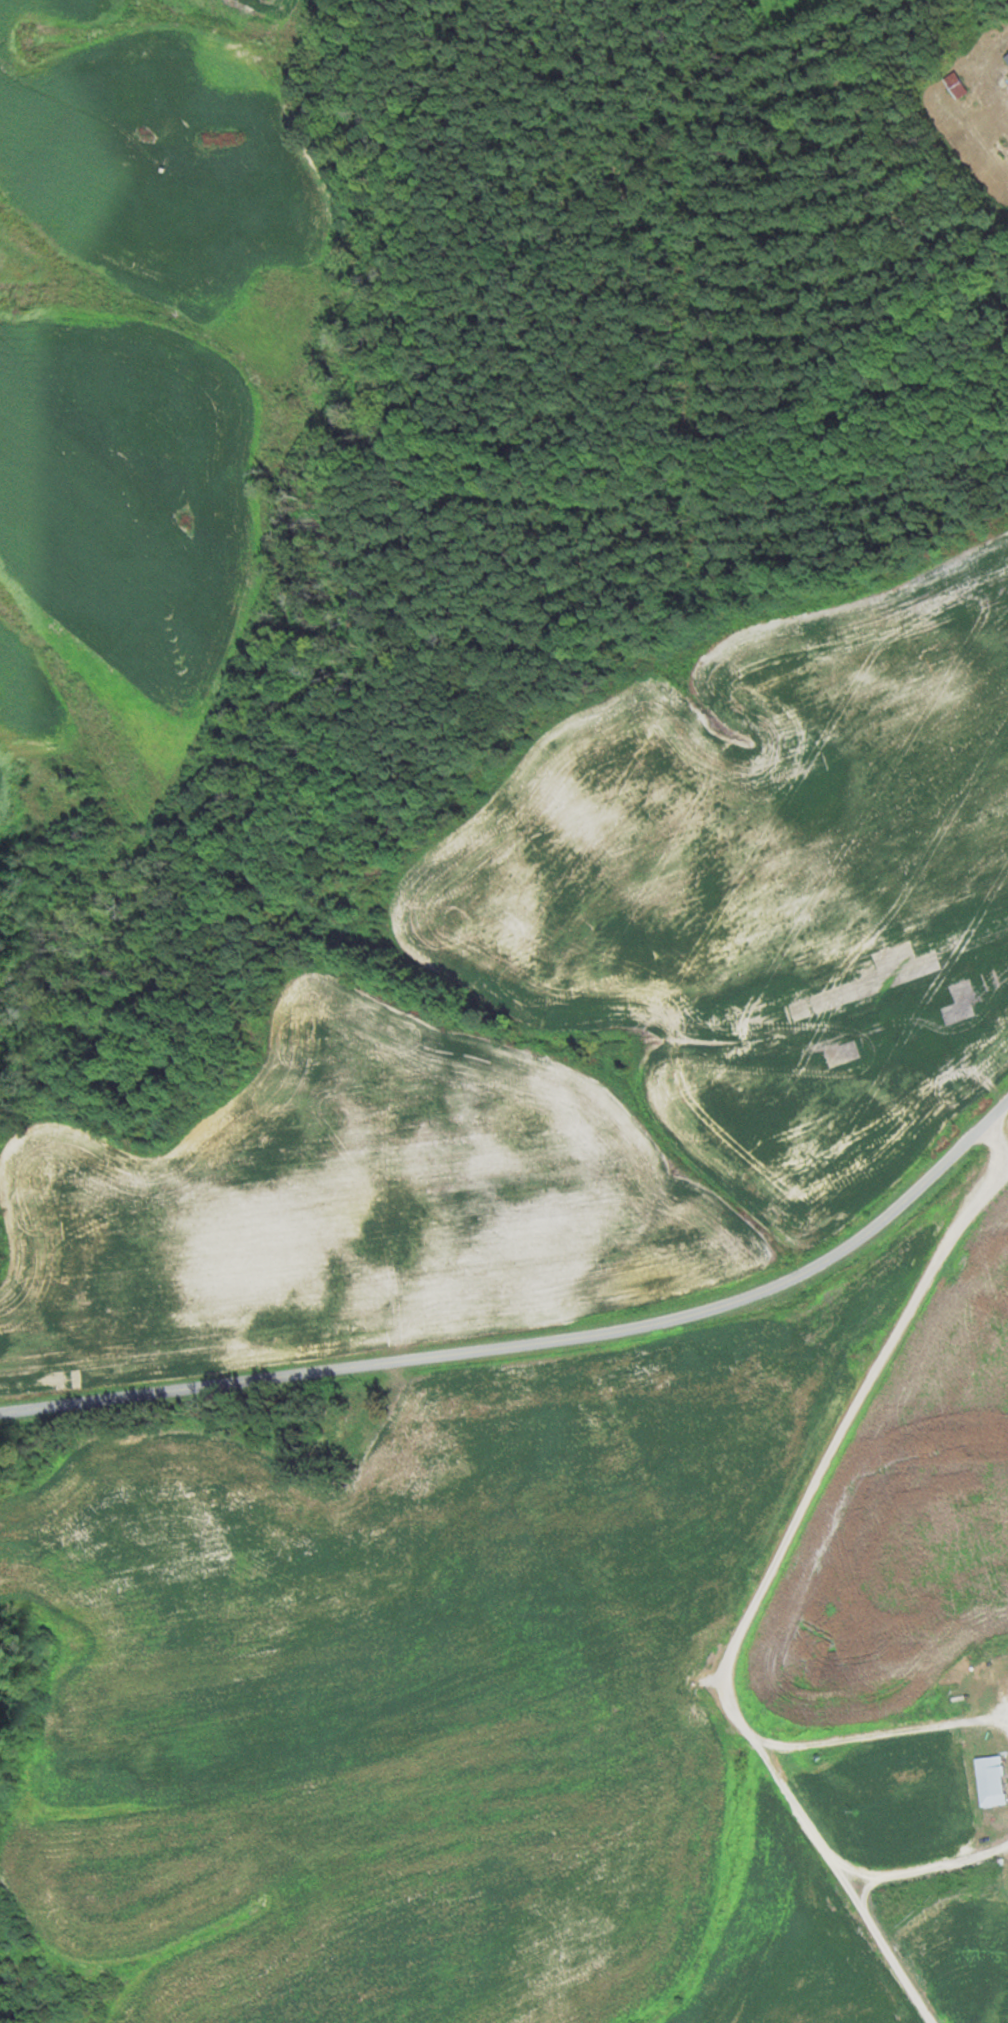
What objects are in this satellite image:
building: (1006, 57)
building: (954, 85)
building: (999, 153)
road: (538, 1341)
road: (769, 1591)
road: (888, 1734)
building: (990, 1781)
road: (927, 1867)

